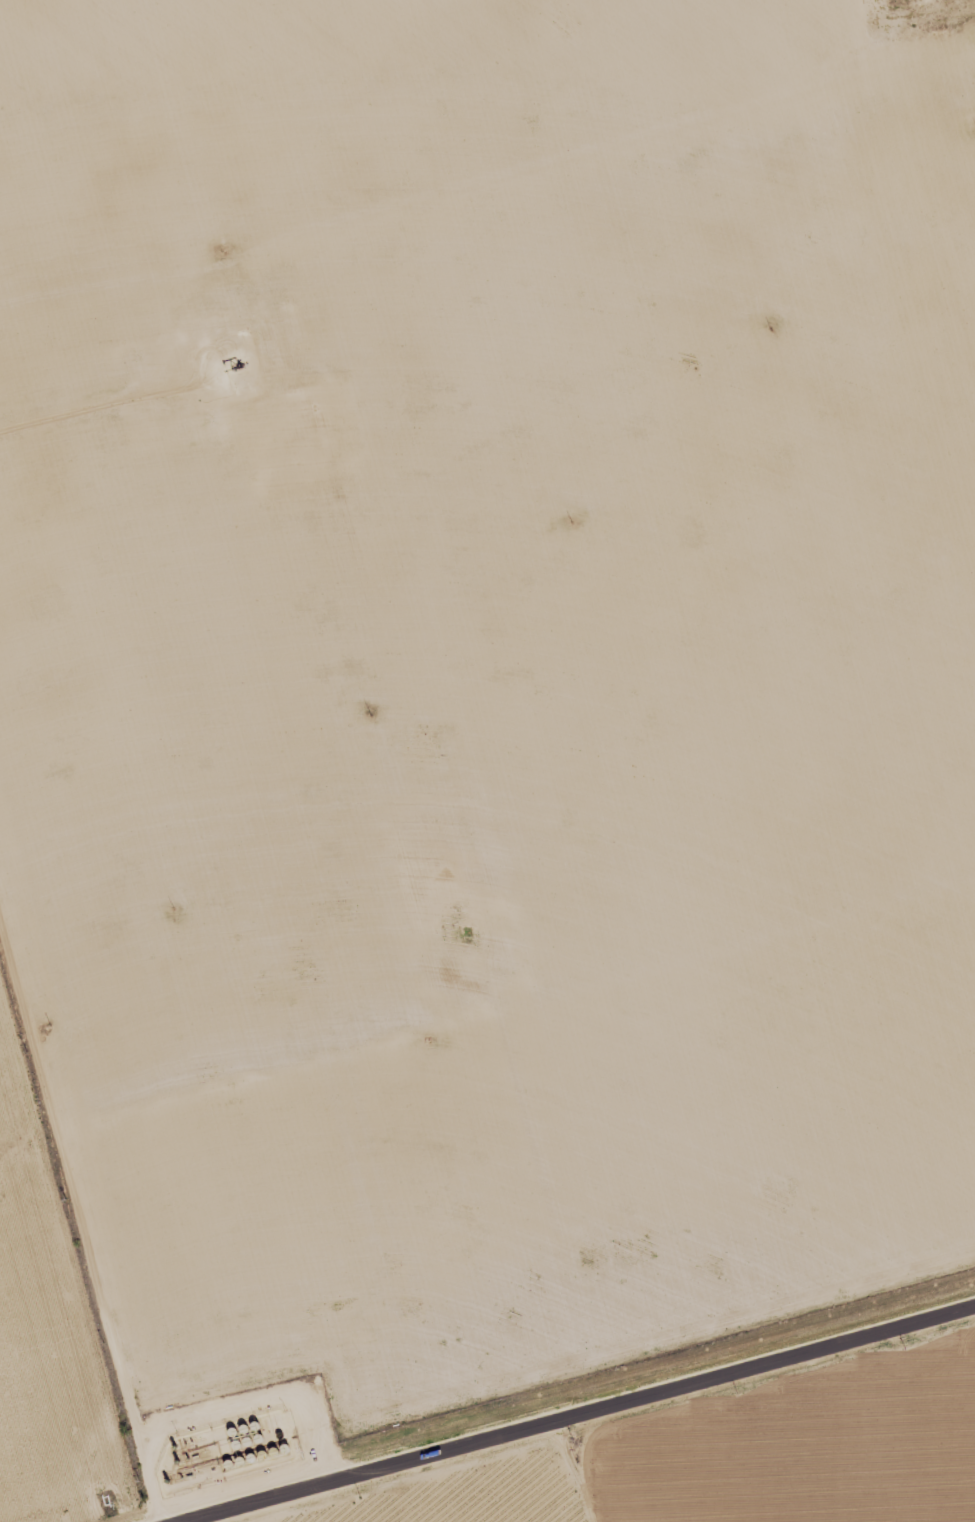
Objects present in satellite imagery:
road: (592, 766)
road: (81, 1208)
road: (581, 1411)

